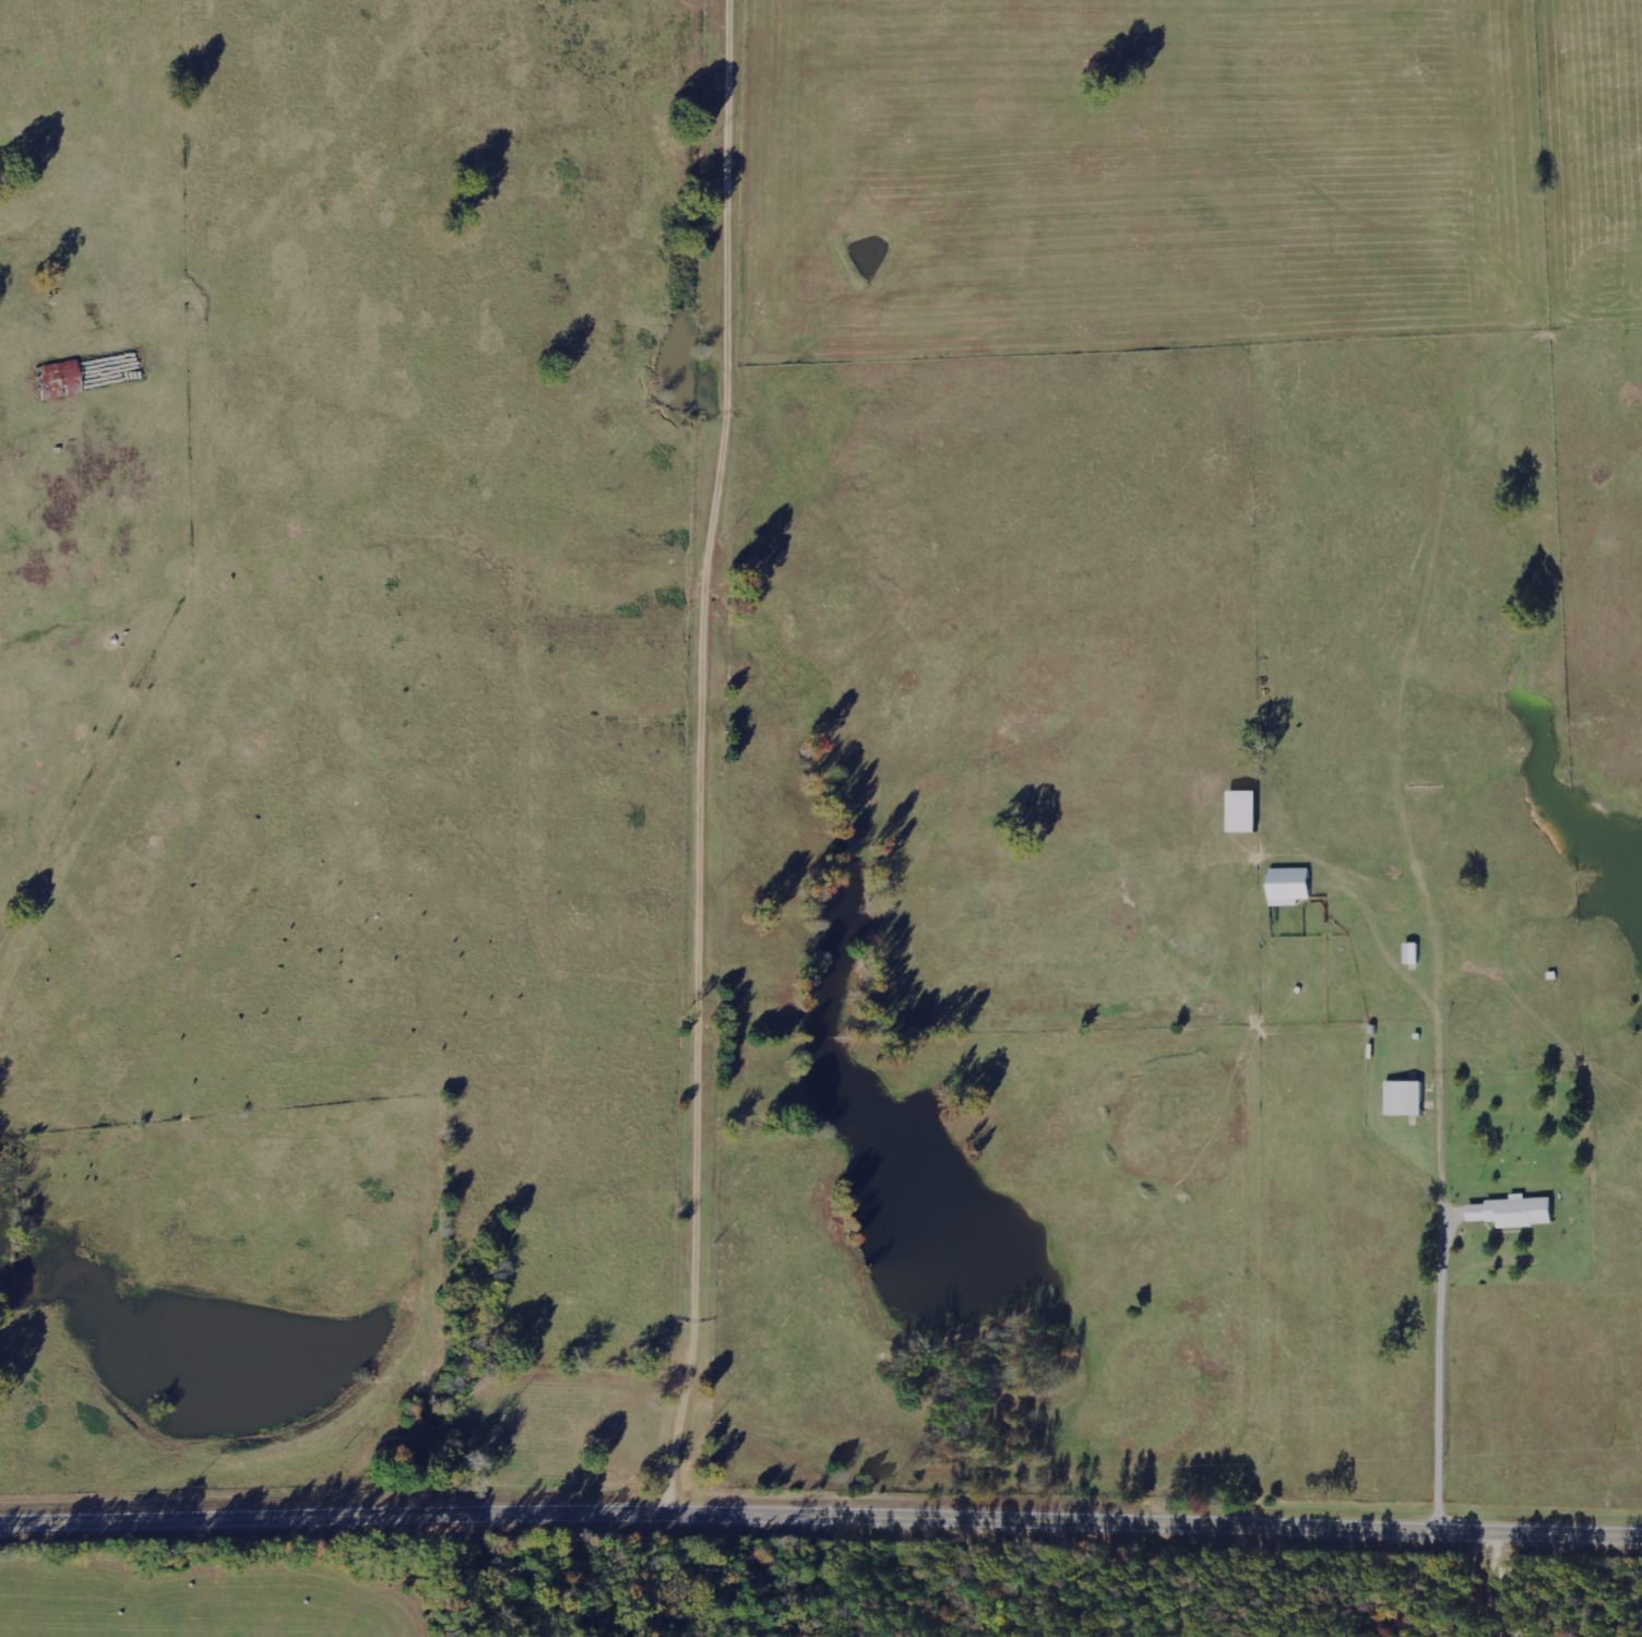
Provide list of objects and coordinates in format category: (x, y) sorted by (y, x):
building: (58, 378)
road: (725, 755)
building: (1247, 811)
building: (1292, 886)
building: (1407, 1098)
building: (1524, 1211)
road: (821, 1515)

